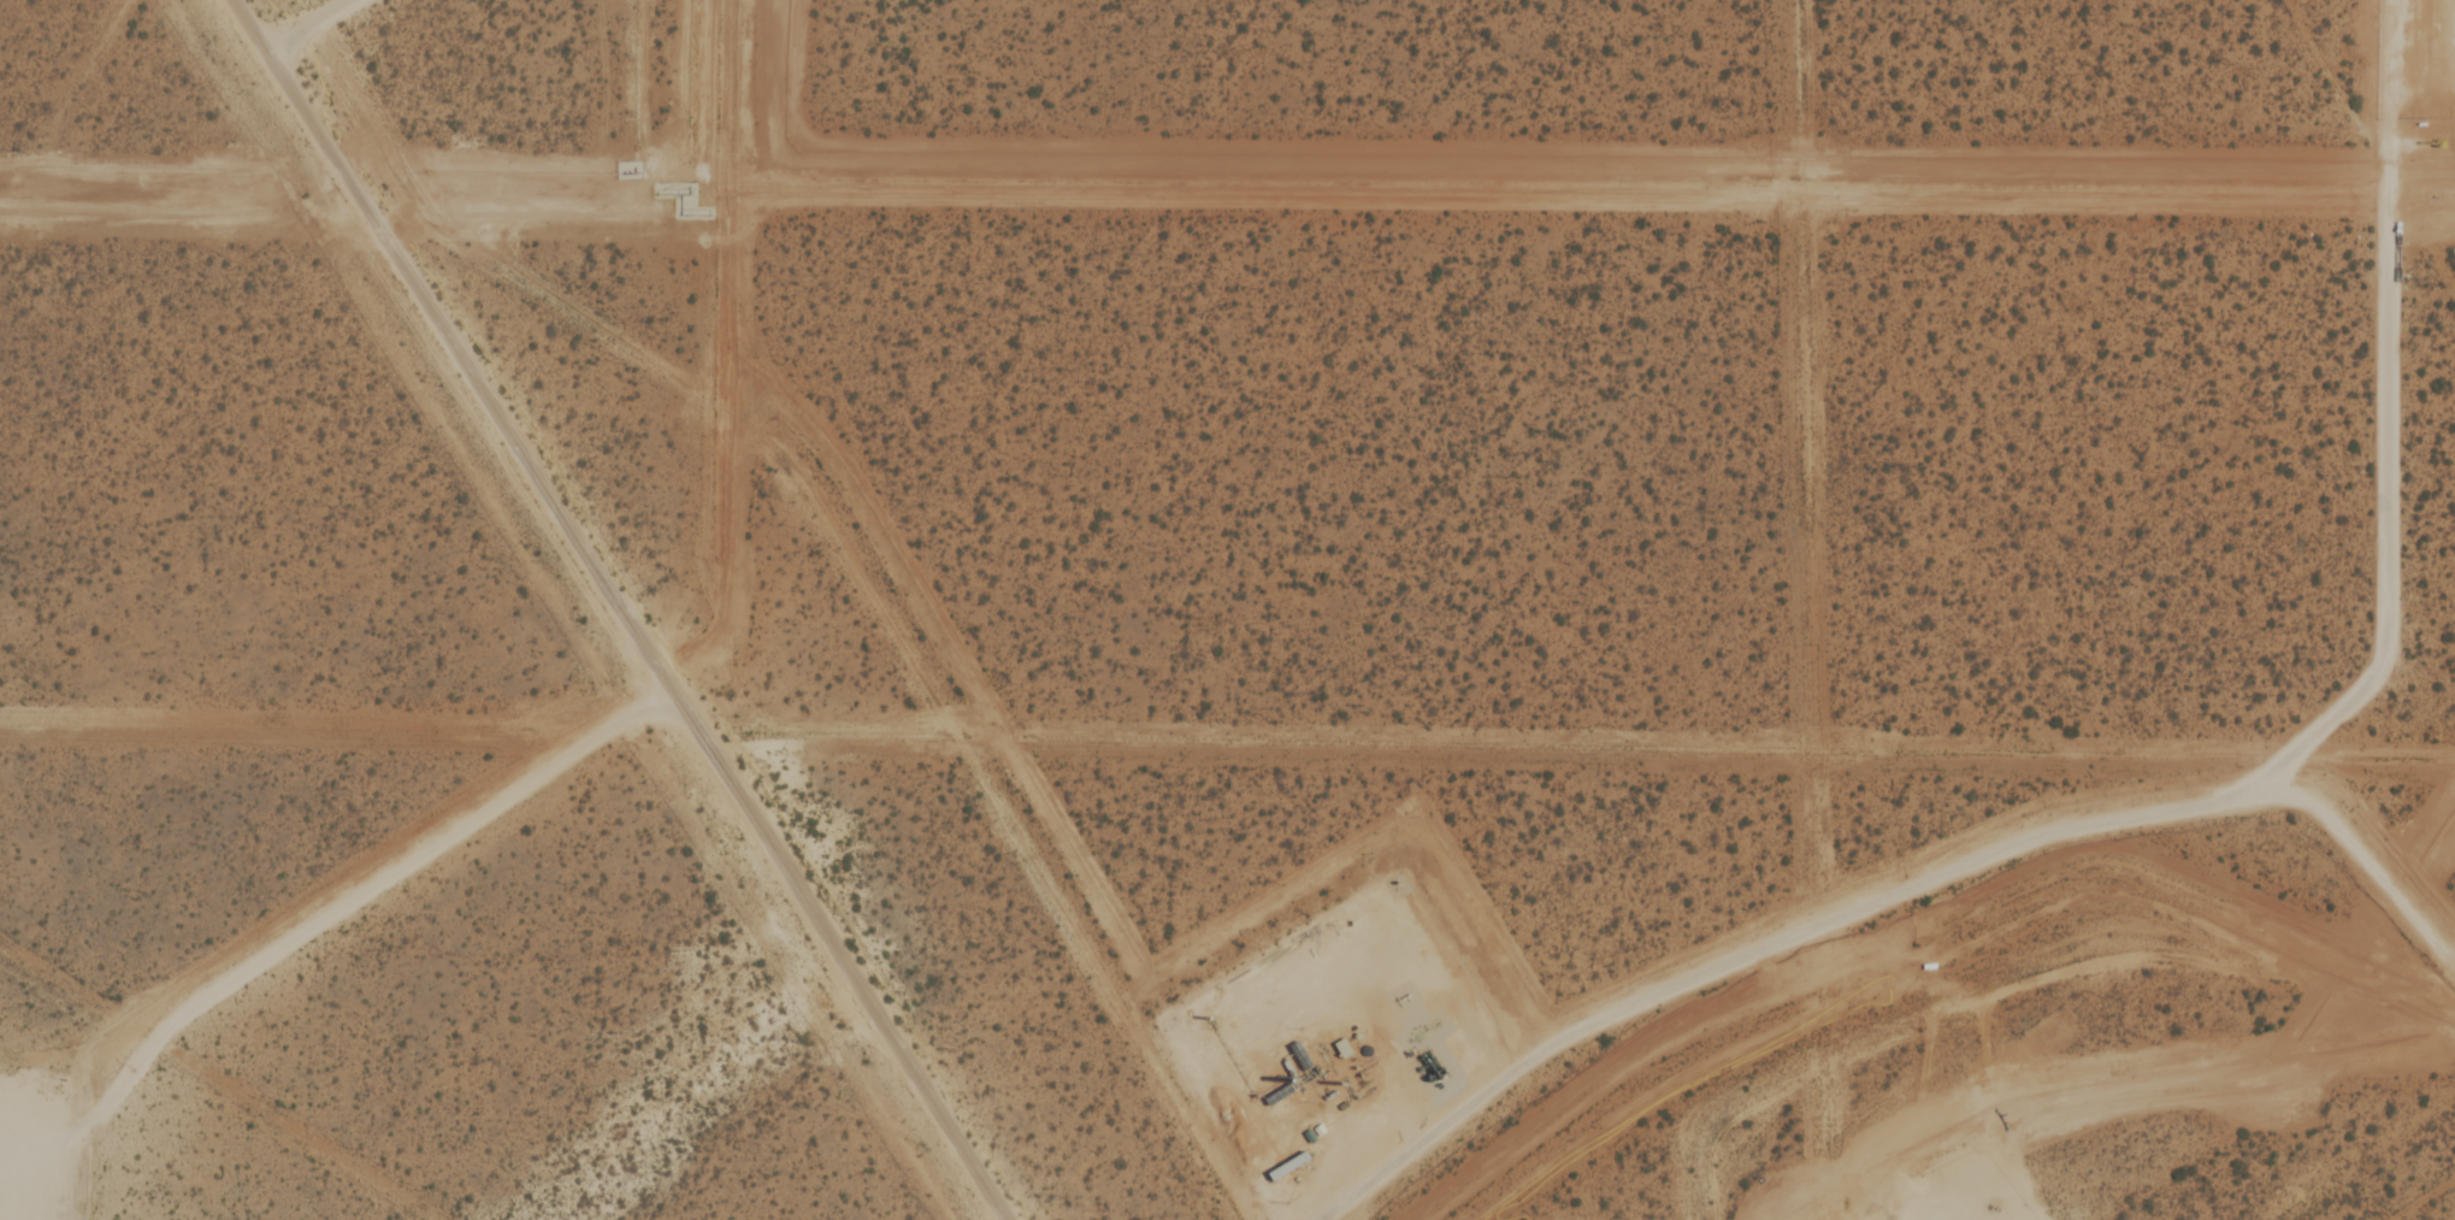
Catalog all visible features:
road: (301, 26)
road: (2430, 143)
road: (2398, 422)
road: (610, 609)
road: (1904, 897)
road: (335, 904)
road: (1381, 918)
road: (19, 1163)
road: (37, 1187)
road: (2008, 1209)

